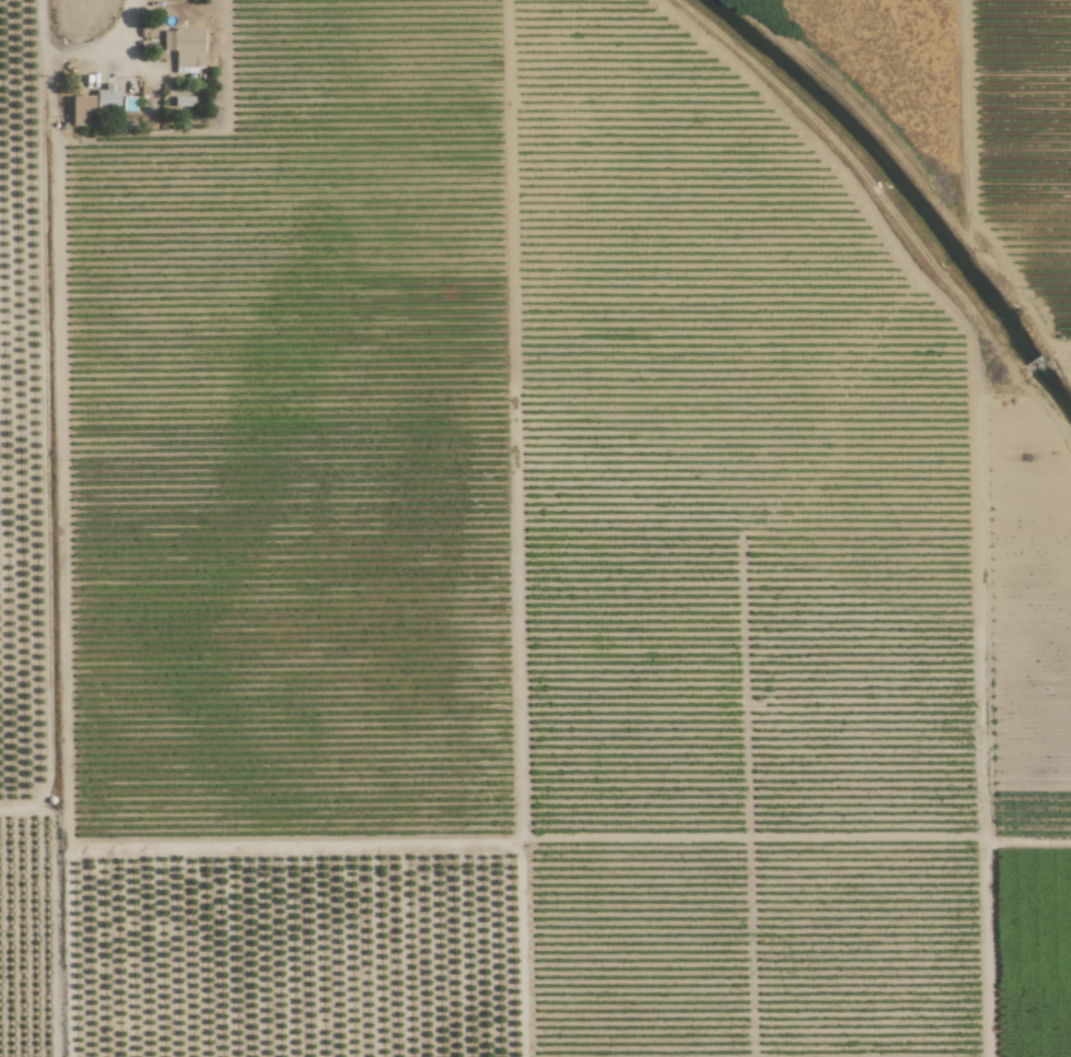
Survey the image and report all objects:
road: (127, 26)
building: (184, 46)
building: (105, 95)
building: (80, 109)

